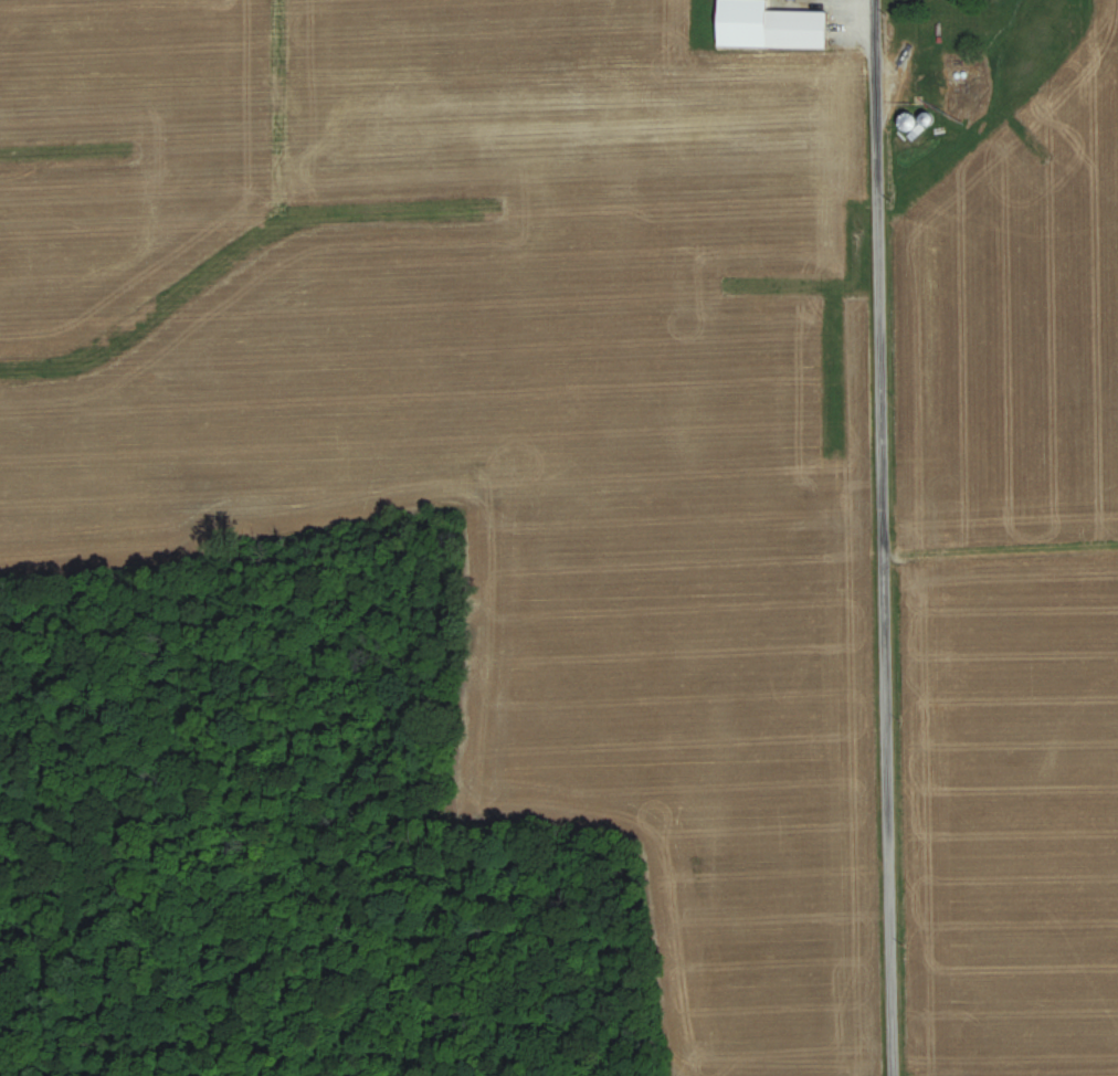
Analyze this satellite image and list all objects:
building: (795, 29)
building: (957, 73)
road: (929, 148)
road: (882, 538)

